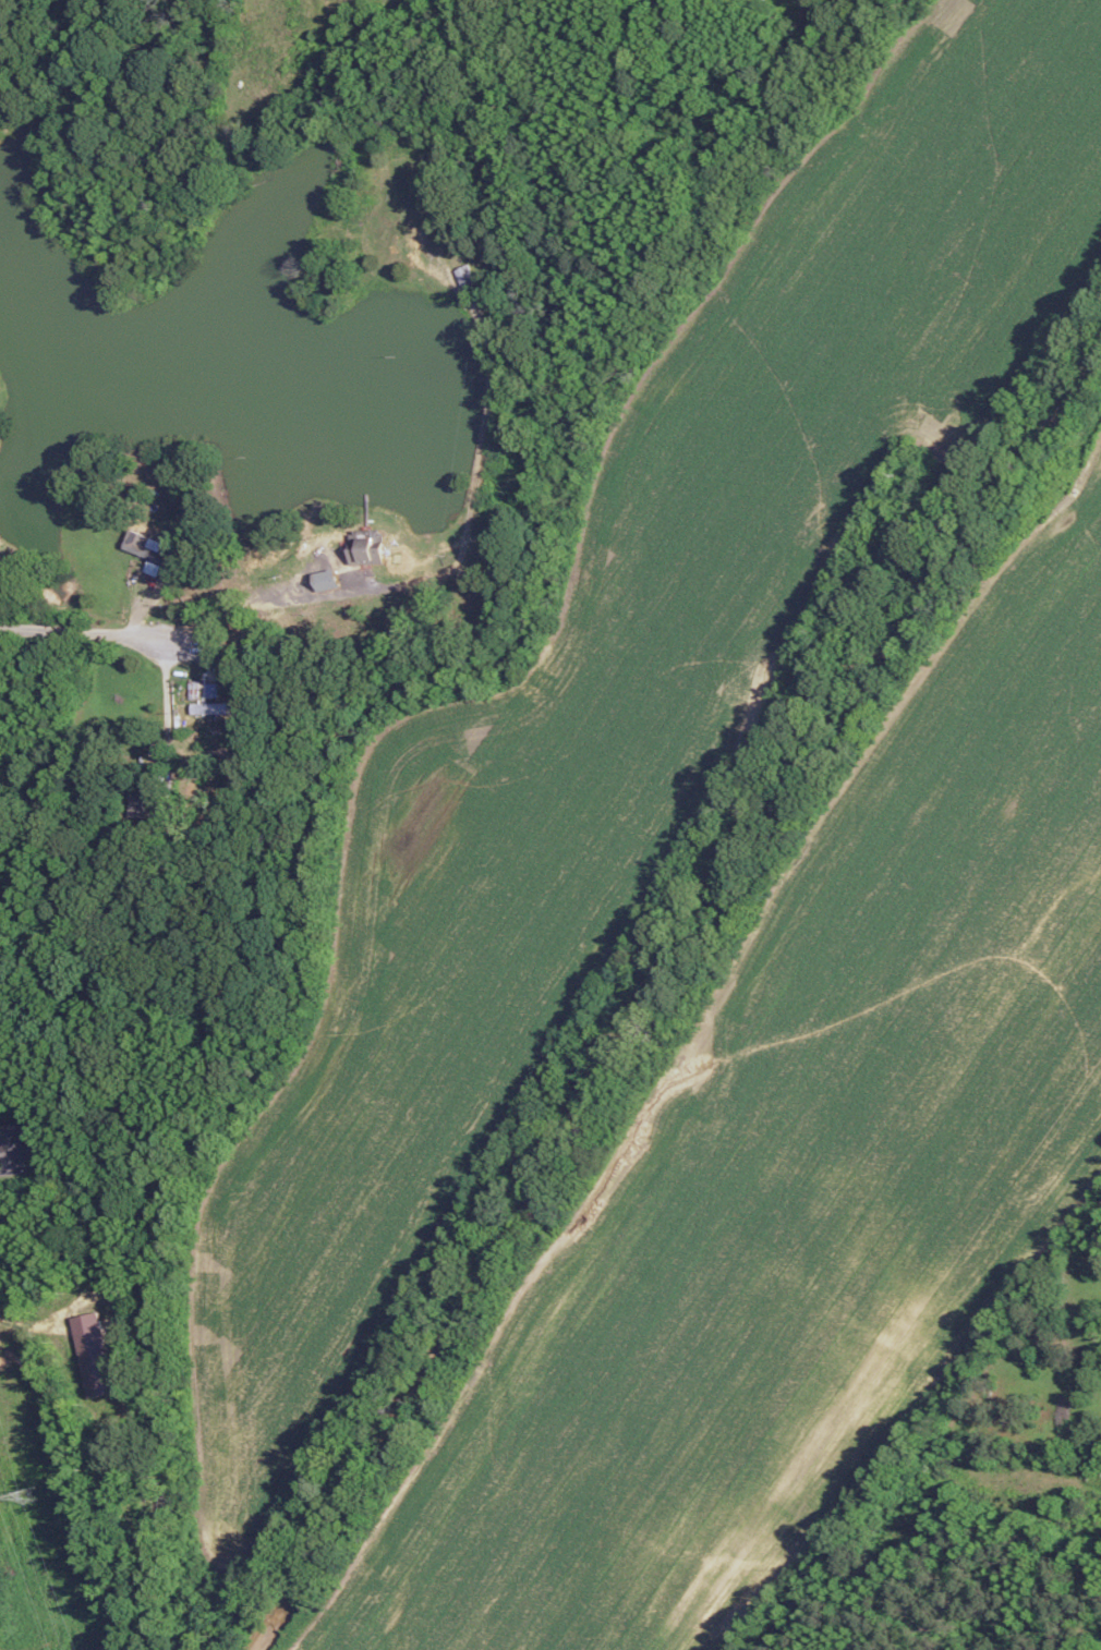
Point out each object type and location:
building: (366, 545)
building: (148, 551)
building: (327, 579)
road: (273, 610)
road: (83, 632)
building: (209, 706)
road: (167, 707)
building: (142, 802)
building: (14, 1141)
road: (7, 1169)
road: (37, 1315)
building: (93, 1352)
power tower: (26, 1496)

